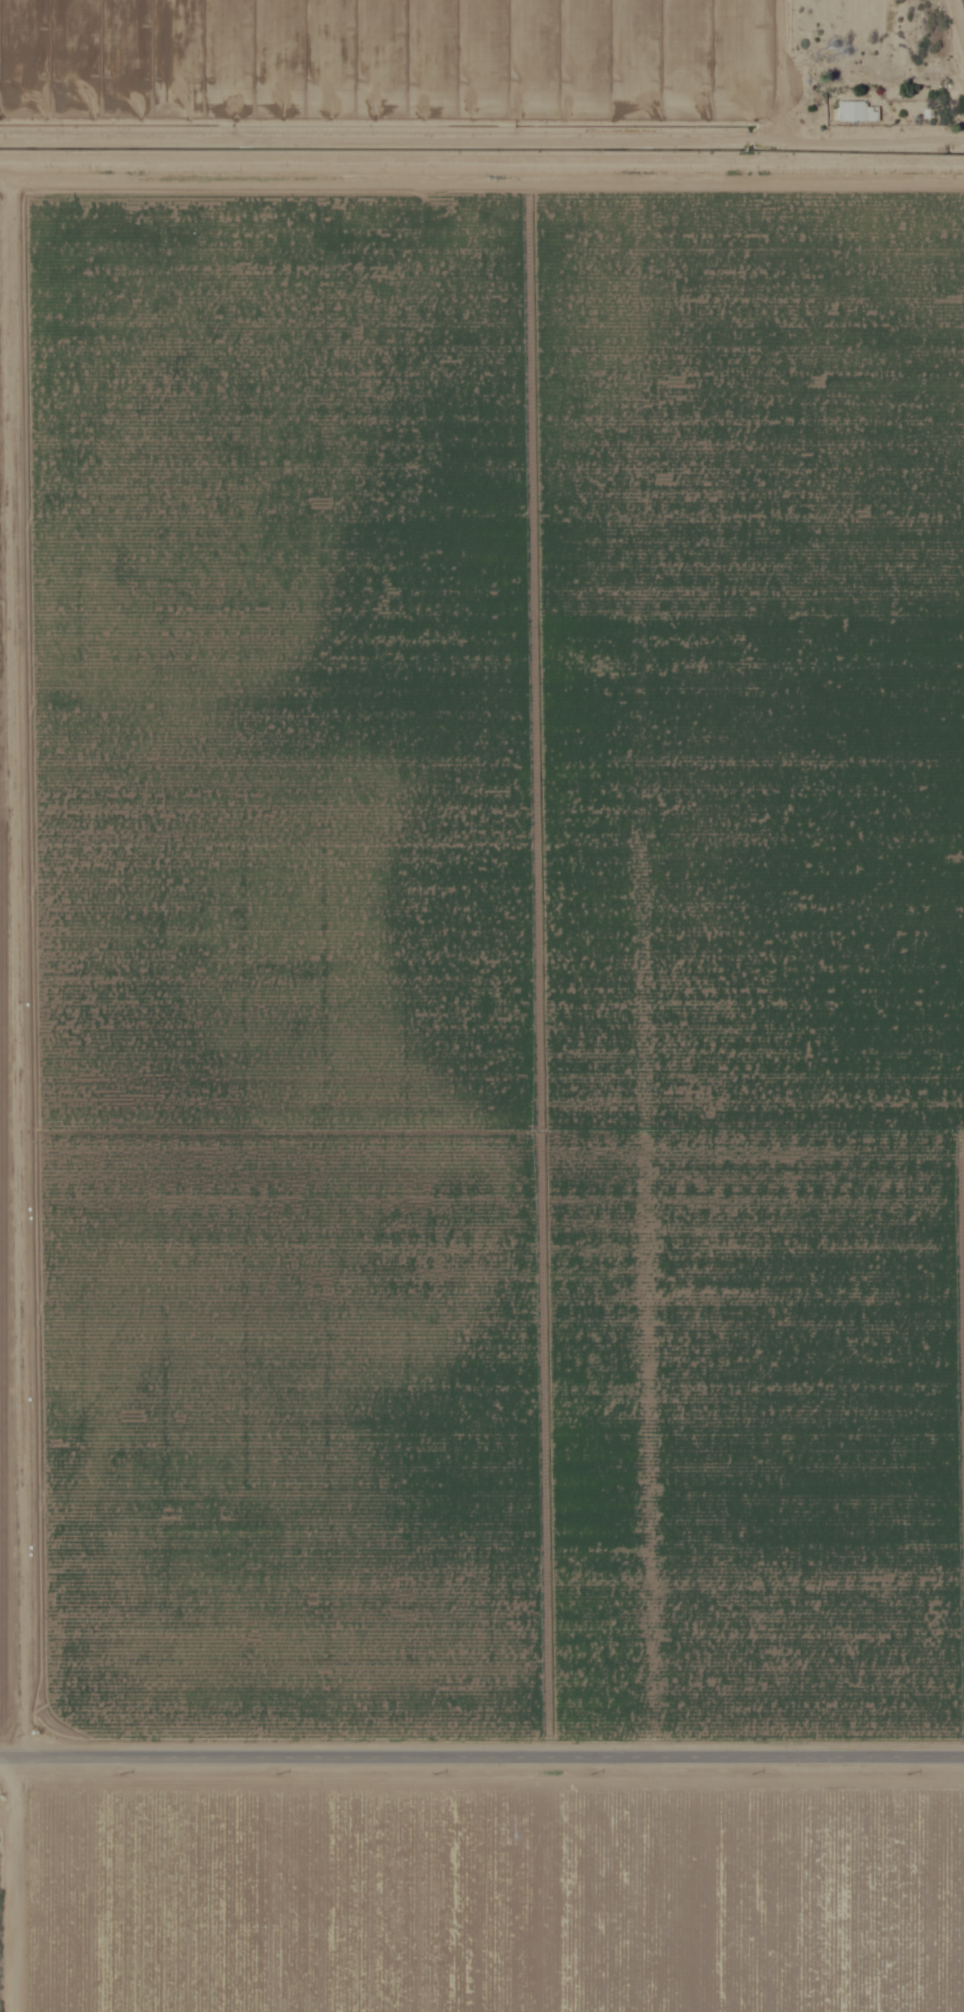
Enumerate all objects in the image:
building: (858, 112)
road: (482, 1756)

